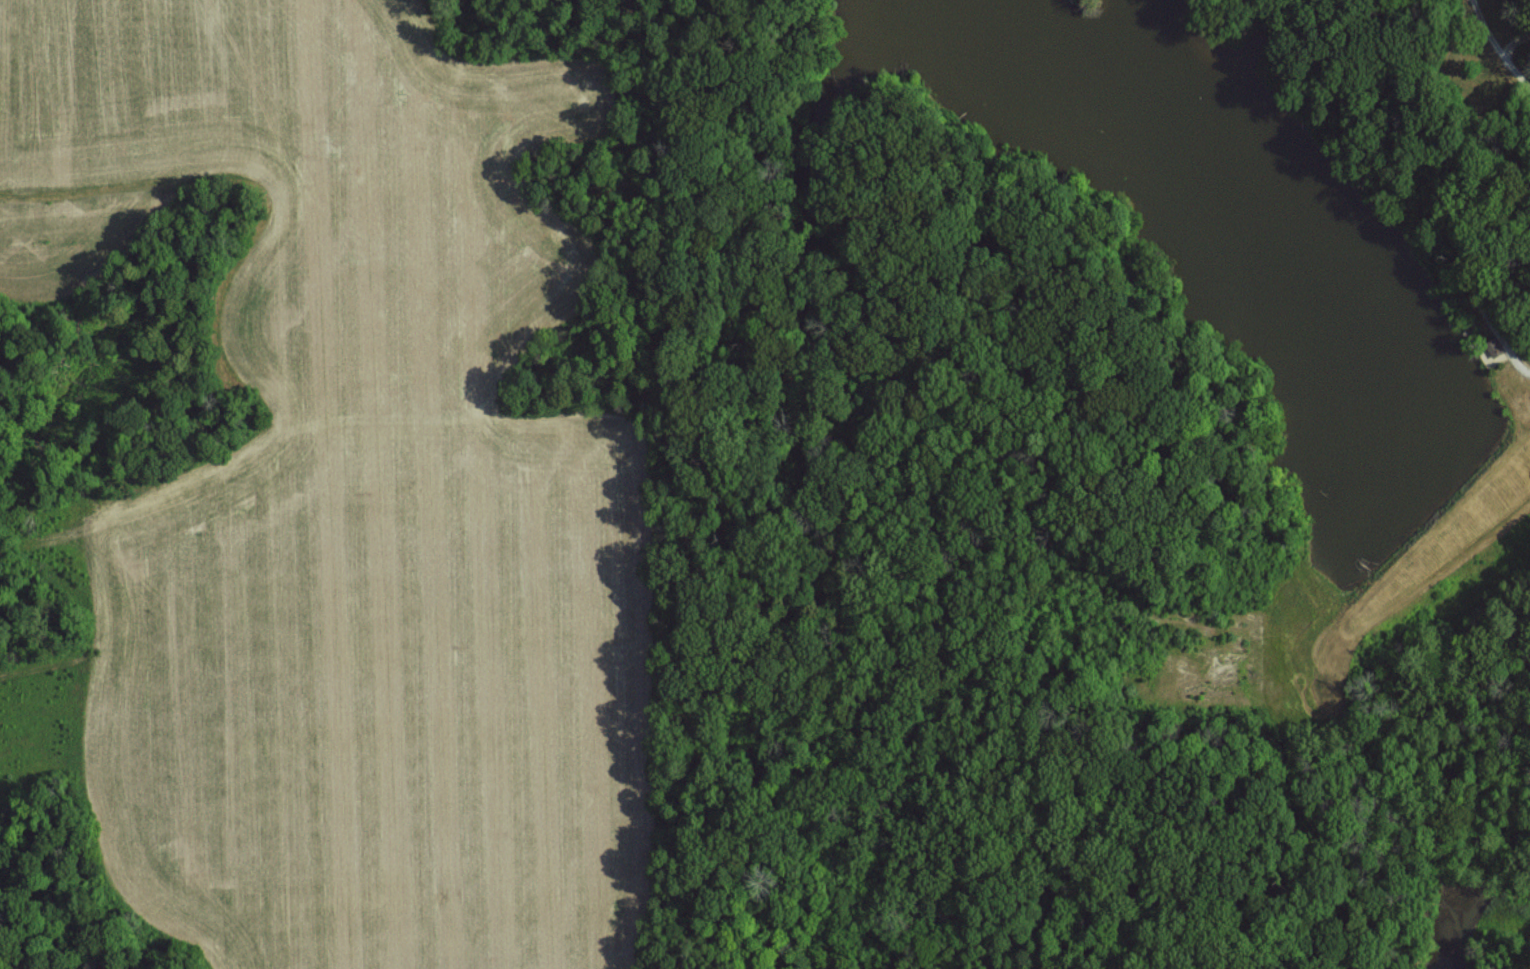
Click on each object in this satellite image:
road: (1498, 46)
road: (1513, 357)

